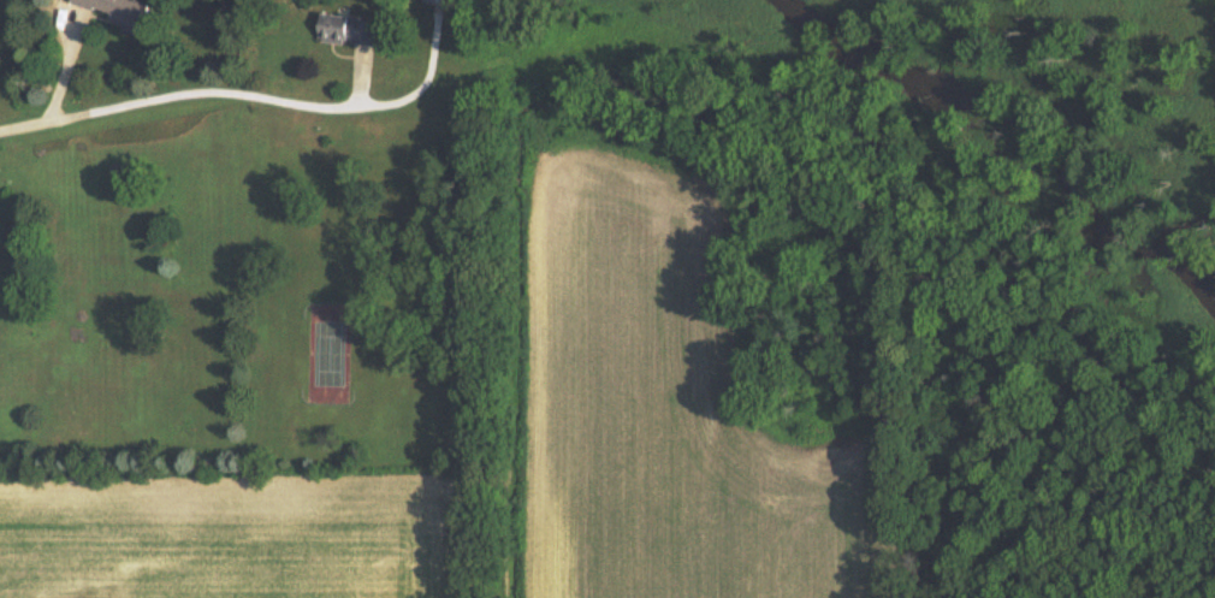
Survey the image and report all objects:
building: (443, 0)
building: (121, 12)
building: (349, 30)
road: (247, 91)
road: (22, 131)

